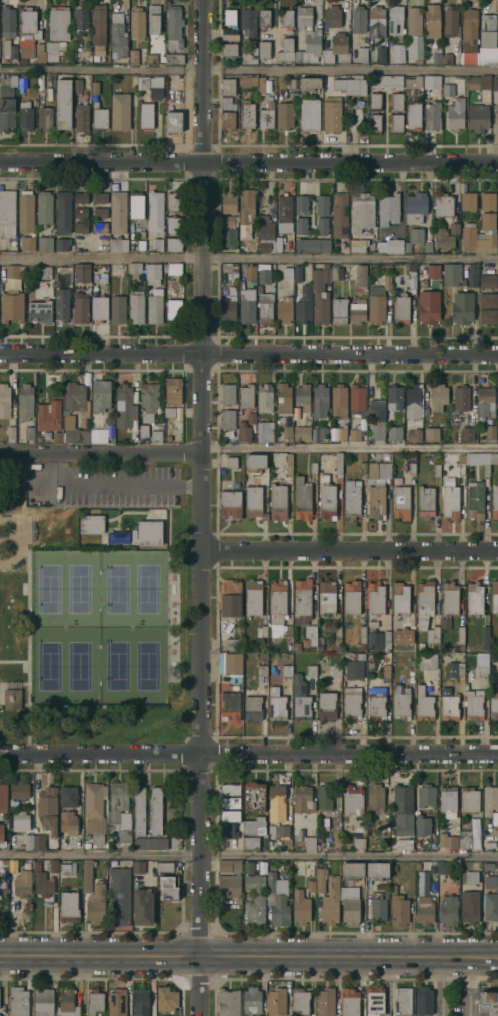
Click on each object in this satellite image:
building: (418, 3)
building: (332, 15)
building: (303, 16)
building: (81, 17)
building: (229, 17)
building: (153, 18)
building: (264, 18)
building: (286, 19)
building: (359, 19)
building: (7, 21)
building: (248, 21)
building: (376, 21)
building: (432, 21)
building: (450, 21)
building: (58, 22)
building: (137, 22)
building: (395, 23)
building: (174, 26)
building: (98, 30)
building: (228, 31)
building: (28, 32)
building: (414, 32)
building: (118, 35)
building: (230, 36)
building: (469, 36)
building: (488, 39)
building: (497, 43)
building: (310, 46)
building: (335, 46)
building: (8, 49)
building: (229, 49)
building: (263, 49)
building: (54, 50)
building: (285, 50)
building: (40, 52)
building: (447, 52)
building: (398, 53)
building: (133, 54)
building: (249, 54)
building: (362, 54)
building: (380, 54)
building: (174, 58)
building: (437, 58)
road: (248, 72)
building: (8, 80)
building: (248, 80)
building: (432, 80)
building: (386, 81)
building: (22, 82)
building: (143, 82)
building: (478, 82)
building: (294, 83)
building: (309, 83)
building: (338, 84)
building: (261, 85)
building: (77, 86)
building: (228, 86)
building: (355, 86)
building: (95, 87)
building: (156, 87)
building: (414, 87)
building: (495, 89)
building: (447, 90)
building: (226, 100)
building: (375, 101)
building: (397, 101)
building: (63, 103)
building: (95, 104)
building: (228, 106)
building: (120, 111)
building: (6, 113)
building: (332, 113)
building: (456, 113)
building: (247, 114)
building: (266, 114)
building: (310, 114)
building: (25, 115)
building: (285, 115)
building: (432, 115)
building: (146, 116)
building: (413, 116)
building: (44, 117)
building: (81, 117)
building: (478, 117)
building: (99, 118)
building: (228, 119)
building: (174, 121)
building: (374, 122)
building: (397, 122)
building: (497, 123)
road: (249, 165)
building: (80, 196)
building: (100, 196)
building: (467, 198)
building: (173, 200)
building: (488, 200)
building: (229, 202)
building: (301, 203)
building: (136, 204)
building: (322, 204)
building: (443, 204)
building: (44, 206)
building: (415, 206)
building: (388, 208)
building: (25, 210)
building: (155, 210)
building: (63, 211)
building: (80, 211)
building: (100, 211)
building: (118, 211)
building: (362, 211)
building: (497, 211)
building: (7, 213)
building: (285, 213)
building: (246, 215)
building: (339, 215)
building: (229, 220)
building: (173, 225)
building: (301, 225)
building: (322, 225)
building: (80, 226)
building: (100, 226)
building: (454, 227)
building: (141, 234)
building: (480, 234)
building: (266, 236)
building: (228, 237)
building: (443, 237)
building: (415, 239)
building: (27, 242)
building: (45, 243)
building: (62, 243)
building: (115, 243)
building: (154, 243)
building: (173, 243)
building: (141, 244)
building: (278, 244)
building: (358, 244)
building: (313, 245)
building: (390, 245)
building: (428, 245)
road: (249, 257)
building: (134, 268)
building: (234, 270)
building: (433, 270)
building: (13, 271)
building: (45, 271)
building: (81, 271)
building: (173, 271)
building: (288, 273)
building: (297, 273)
building: (340, 273)
building: (452, 273)
building: (361, 274)
building: (473, 275)
building: (264, 276)
building: (412, 279)
building: (487, 280)
building: (154, 293)
building: (403, 293)
building: (248, 295)
building: (321, 295)
building: (378, 300)
building: (488, 300)
building: (61, 303)
building: (229, 304)
building: (304, 304)
building: (11, 305)
building: (173, 305)
building: (266, 305)
building: (429, 306)
building: (80, 307)
building: (99, 307)
building: (463, 307)
building: (136, 308)
building: (402, 308)
building: (118, 309)
building: (285, 309)
building: (340, 309)
building: (40, 311)
building: (357, 311)
building: (488, 316)
road: (249, 354)
building: (173, 389)
building: (228, 393)
building: (100, 394)
building: (302, 394)
building: (246, 396)
building: (439, 396)
building: (264, 397)
building: (394, 397)
building: (461, 397)
building: (75, 398)
building: (4, 400)
building: (149, 400)
building: (320, 400)
building: (339, 400)
building: (485, 400)
building: (25, 401)
building: (357, 401)
building: (414, 401)
building: (124, 405)
building: (284, 409)
building: (169, 411)
building: (48, 415)
building: (251, 417)
building: (228, 419)
building: (377, 419)
building: (65, 420)
building: (144, 430)
building: (264, 431)
building: (491, 431)
building: (10, 432)
building: (29, 432)
building: (243, 432)
building: (302, 432)
building: (395, 432)
building: (497, 432)
building: (319, 433)
building: (338, 433)
building: (467, 433)
building: (72, 434)
building: (354, 434)
building: (432, 434)
building: (99, 435)
building: (156, 435)
building: (414, 435)
building: (57, 436)
building: (84, 436)
road: (349, 447)
road: (100, 449)
building: (494, 457)
building: (479, 459)
building: (231, 461)
building: (255, 462)
building: (338, 462)
building: (289, 464)
building: (314, 467)
building: (363, 467)
building: (412, 467)
building: (462, 469)
building: (437, 470)
building: (377, 488)
building: (326, 498)
building: (351, 498)
building: (302, 499)
building: (450, 499)
building: (475, 500)
building: (254, 502)
building: (278, 502)
building: (401, 502)
building: (425, 502)
building: (494, 502)
building: (230, 504)
road: (201, 507)
building: (91, 523)
building: (149, 531)
building: (133, 533)
park: (10, 540)
road: (350, 551)
building: (494, 596)
building: (252, 597)
building: (302, 597)
building: (326, 597)
building: (351, 597)
building: (230, 598)
building: (376, 598)
building: (400, 598)
building: (449, 598)
building: (474, 598)
park: (93, 600)
building: (277, 601)
building: (426, 609)
building: (372, 623)
building: (445, 623)
building: (262, 631)
building: (338, 631)
building: (412, 631)
building: (288, 632)
building: (311, 633)
building: (362, 634)
building: (461, 635)
building: (485, 636)
building: (374, 639)
building: (387, 639)
building: (231, 643)
building: (296, 646)
building: (421, 646)
building: (361, 647)
building: (344, 655)
building: (497, 657)
building: (428, 661)
building: (370, 665)
building: (385, 665)
building: (231, 666)
building: (262, 670)
building: (287, 670)
building: (311, 670)
building: (336, 670)
building: (345, 670)
building: (360, 670)
building: (460, 670)
building: (482, 670)
building: (298, 684)
building: (12, 698)
building: (494, 700)
building: (401, 702)
building: (423, 704)
building: (276, 705)
building: (327, 705)
building: (352, 705)
building: (229, 706)
building: (473, 706)
building: (252, 708)
building: (301, 708)
building: (376, 708)
building: (449, 708)
road: (249, 755)
building: (229, 788)
building: (19, 789)
building: (68, 795)
building: (253, 795)
building: (275, 795)
building: (324, 795)
building: (427, 795)
building: (3, 797)
building: (402, 798)
building: (448, 798)
building: (302, 799)
building: (376, 799)
building: (470, 799)
building: (490, 799)
building: (352, 800)
building: (230, 802)
building: (48, 809)
building: (120, 809)
building: (95, 810)
building: (139, 810)
building: (156, 810)
building: (230, 815)
building: (20, 820)
building: (67, 820)
building: (279, 823)
building: (403, 824)
building: (3, 825)
building: (254, 825)
building: (423, 825)
building: (169, 826)
building: (228, 829)
building: (470, 837)
building: (448, 840)
building: (29, 841)
building: (39, 841)
building: (150, 842)
building: (310, 842)
building: (359, 842)
building: (404, 842)
building: (251, 843)
road: (249, 854)
building: (489, 864)
building: (12, 865)
building: (54, 865)
building: (229, 865)
building: (417, 865)
building: (137, 866)
building: (164, 866)
building: (248, 866)
building: (443, 866)
building: (394, 867)
building: (68, 868)
building: (377, 869)
building: (352, 870)
building: (4, 875)
building: (87, 876)
building: (471, 876)
building: (104, 877)
building: (42, 880)
building: (490, 881)
building: (22, 883)
building: (229, 884)
building: (311, 885)
building: (168, 887)
building: (119, 894)
building: (329, 895)
building: (254, 899)
building: (96, 904)
building: (350, 904)
building: (277, 905)
building: (470, 905)
building: (69, 906)
building: (143, 906)
building: (490, 906)
building: (300, 907)
building: (378, 907)
building: (398, 908)
building: (424, 910)
building: (448, 910)
road: (249, 954)
road: (443, 986)
road: (470, 987)
building: (166, 998)
building: (424, 999)
building: (251, 1000)
building: (300, 1000)
building: (18, 1001)
building: (43, 1001)
building: (95, 1001)
building: (140, 1001)
building: (276, 1001)
building: (350, 1001)
building: (375, 1001)
building: (402, 1001)
building: (488, 1001)
building: (117, 1002)
building: (229, 1002)
building: (325, 1002)
building: (67, 1004)

